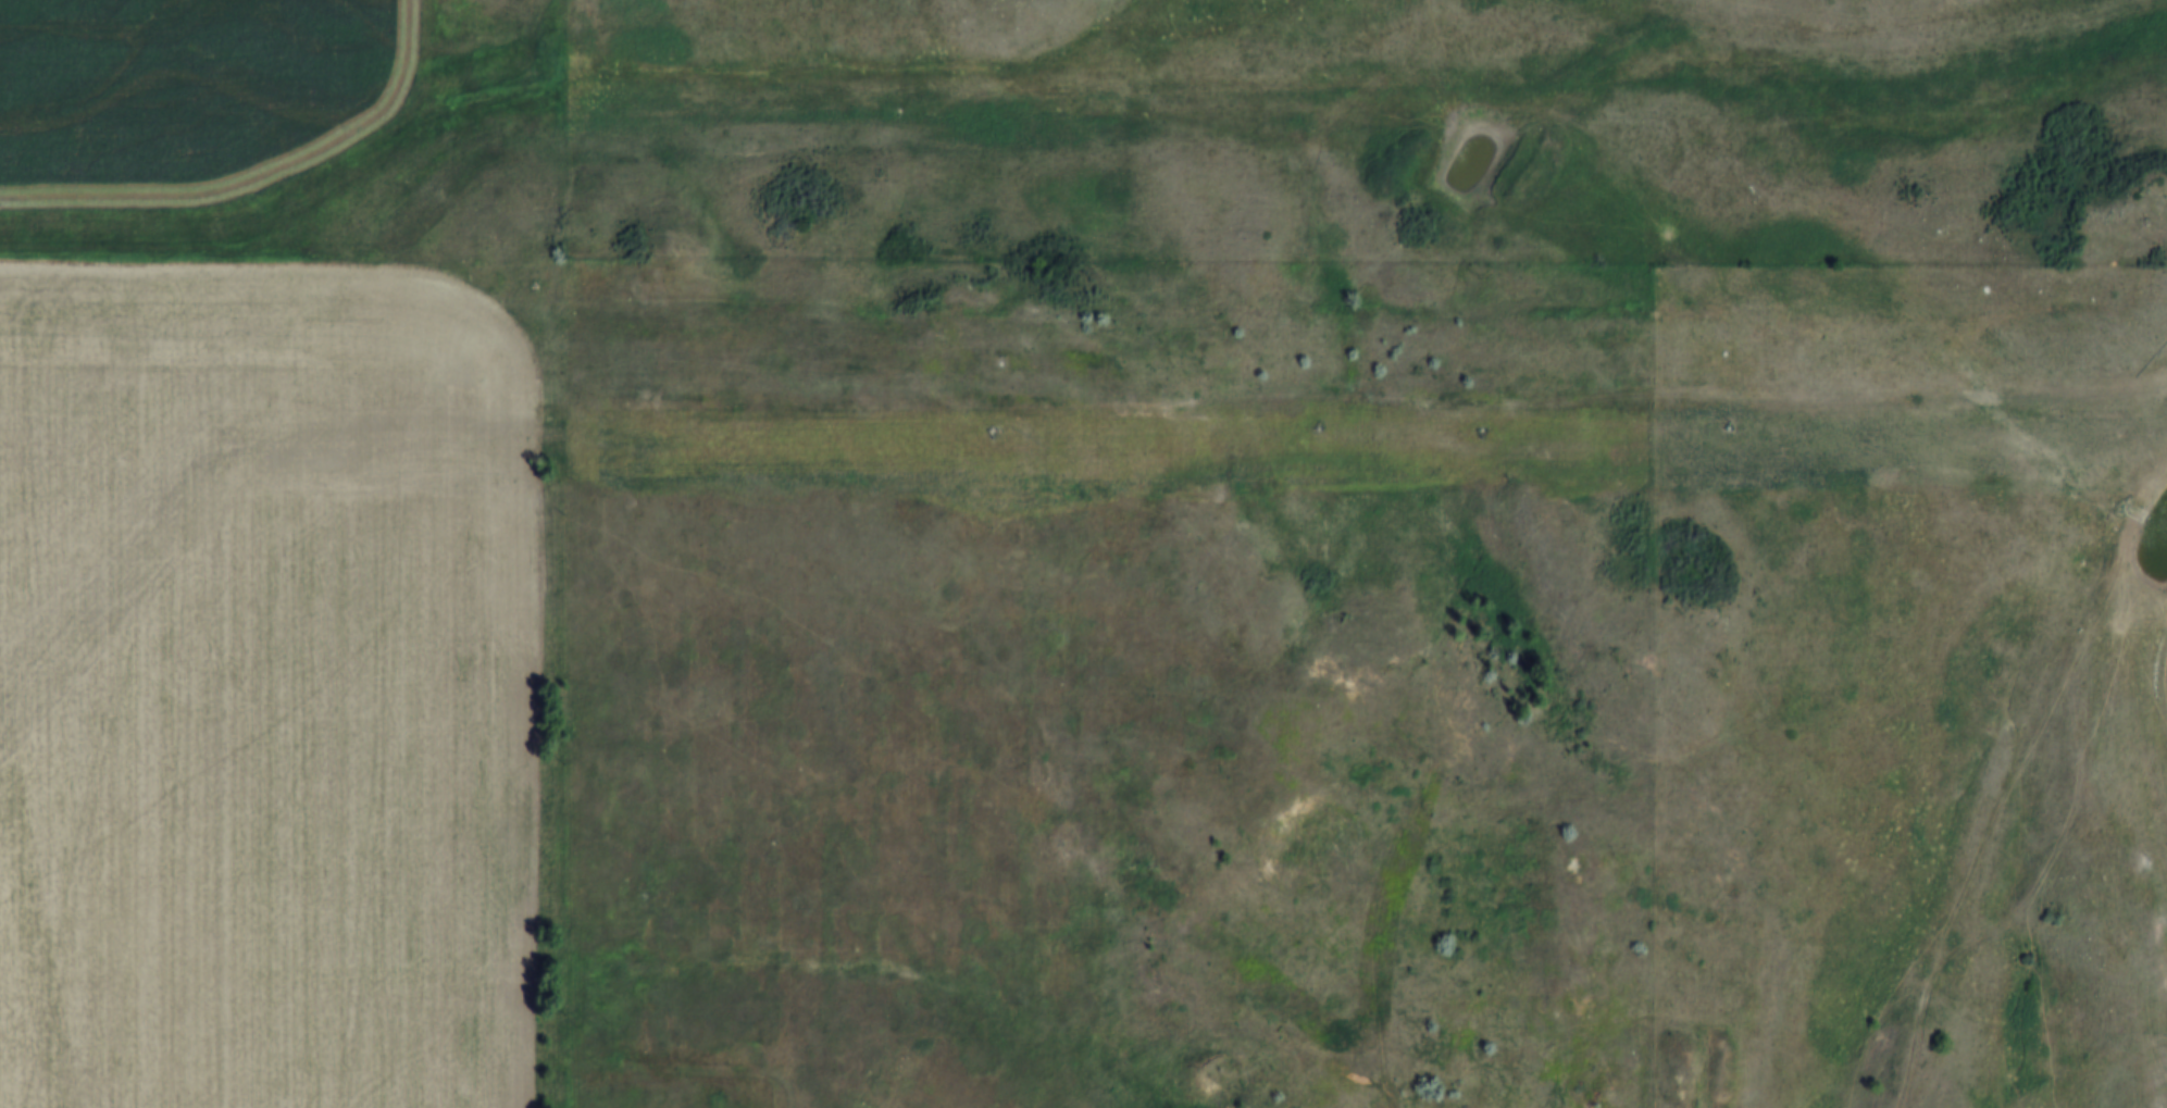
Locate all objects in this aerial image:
road: (2042, 713)
road: (694, 1068)

